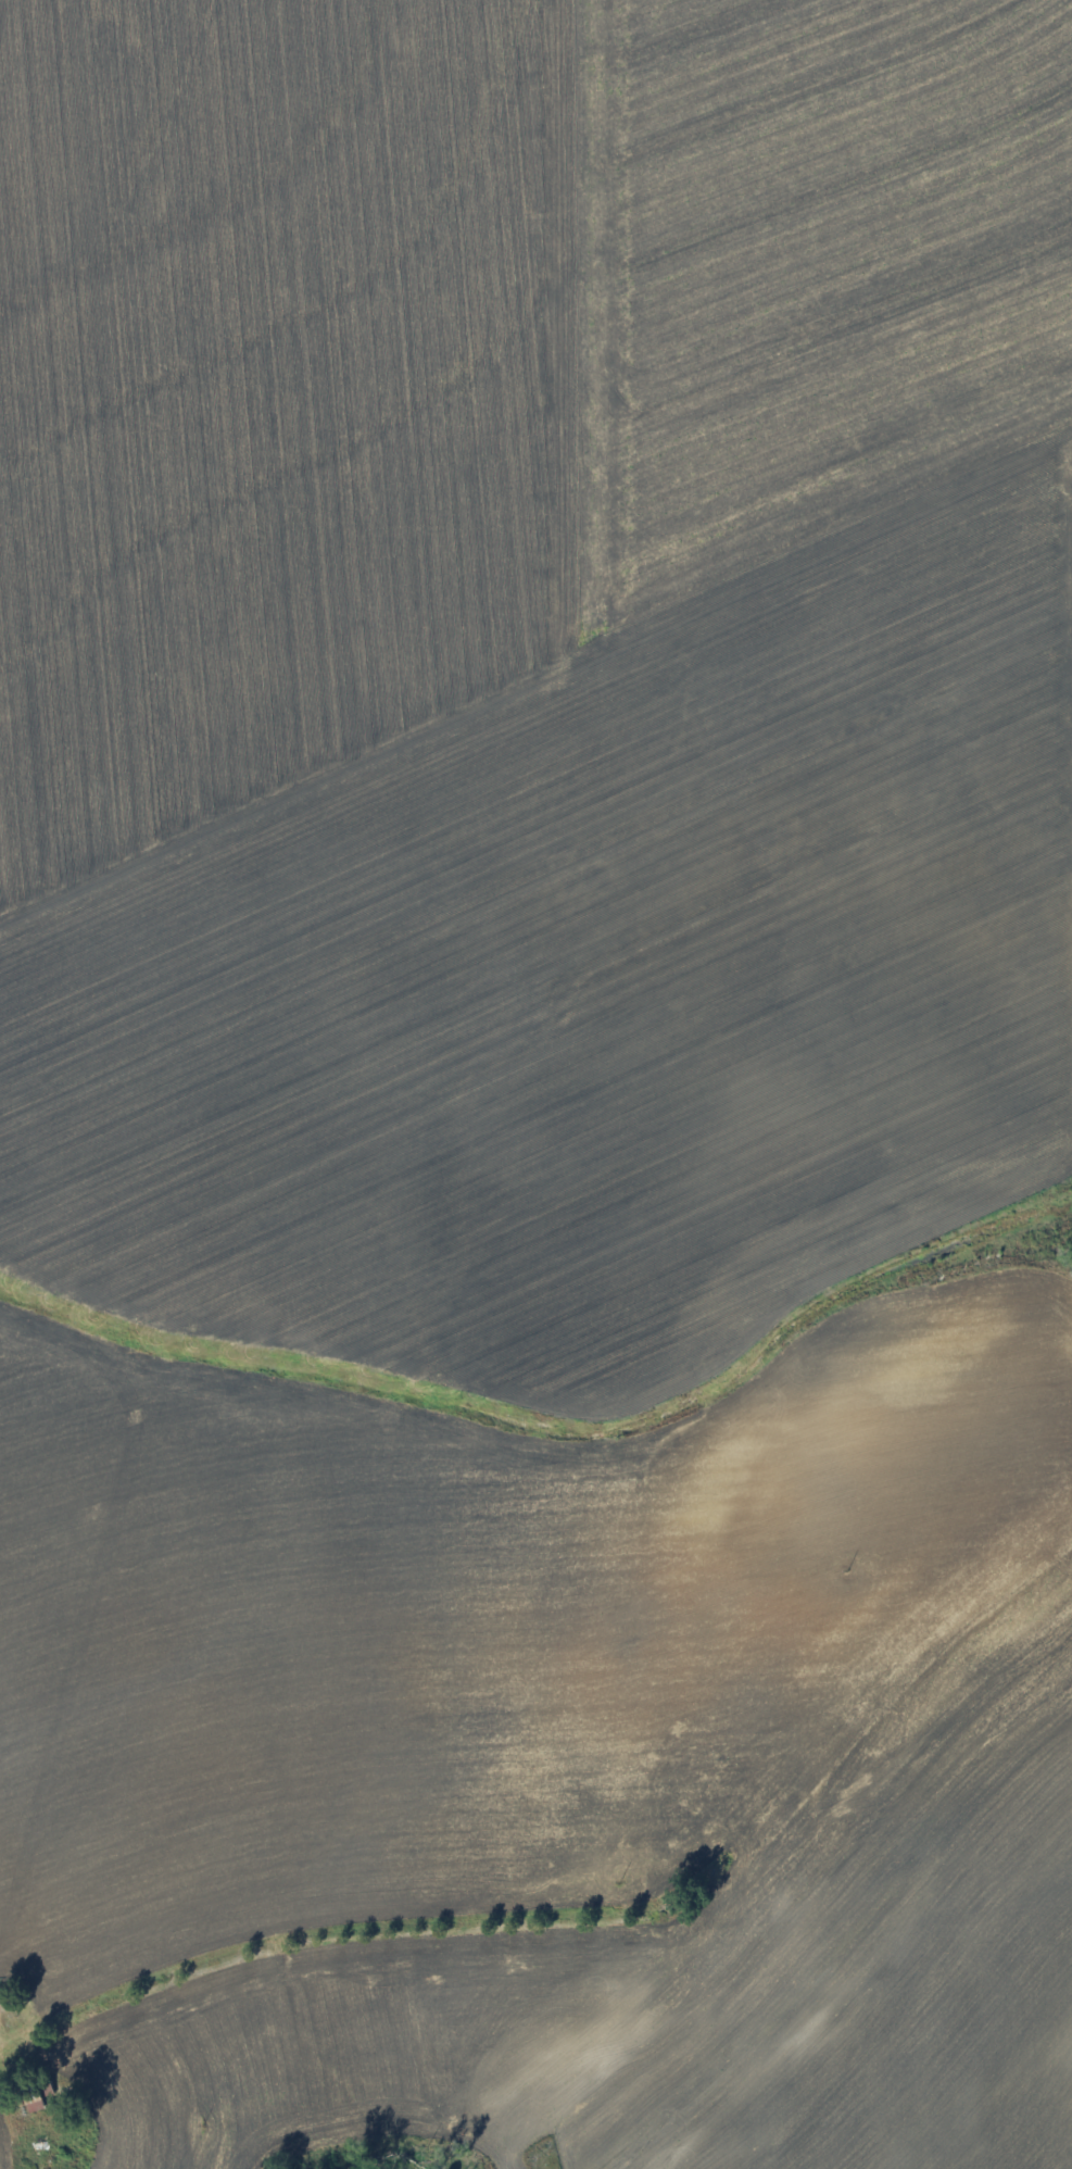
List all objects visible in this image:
road: (375, 1939)

